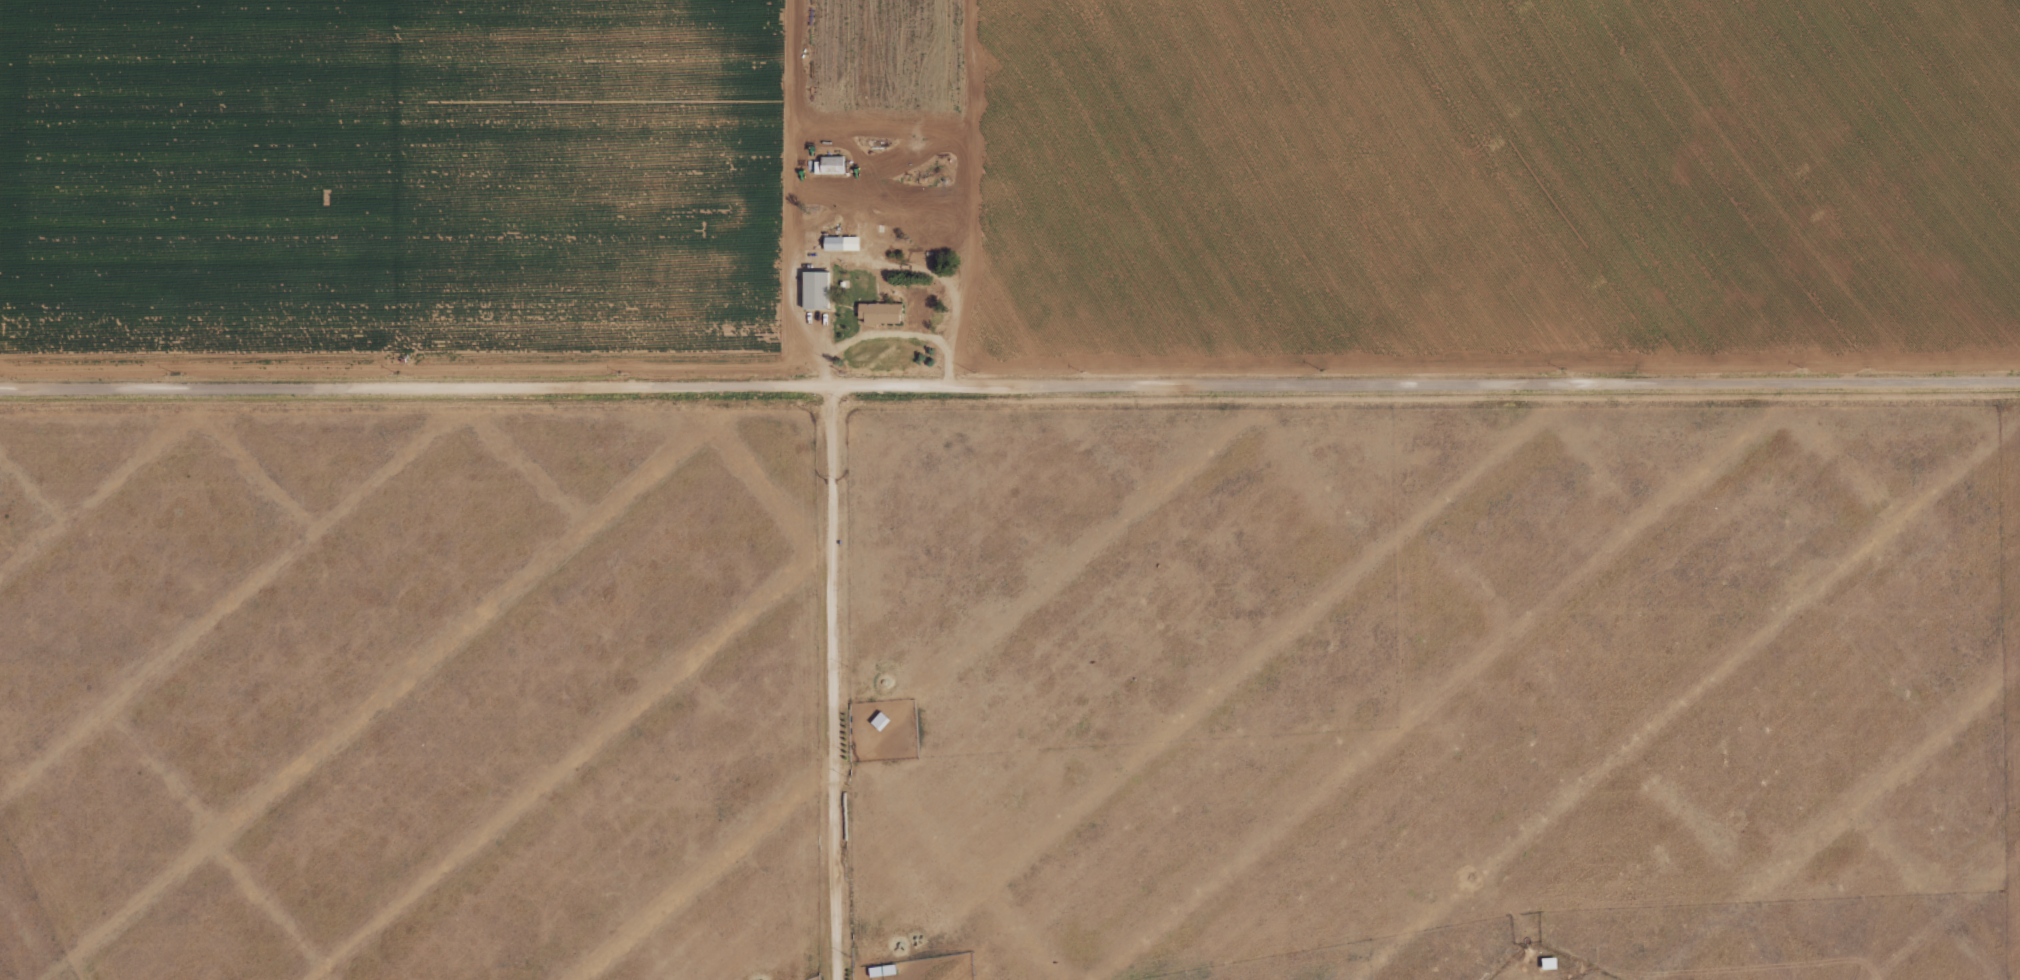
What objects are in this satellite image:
building: (833, 164)
building: (842, 243)
road: (870, 266)
building: (816, 290)
building: (879, 312)
road: (870, 337)
road: (1009, 389)
road: (836, 685)
building: (880, 720)
building: (1550, 962)
building: (882, 970)

